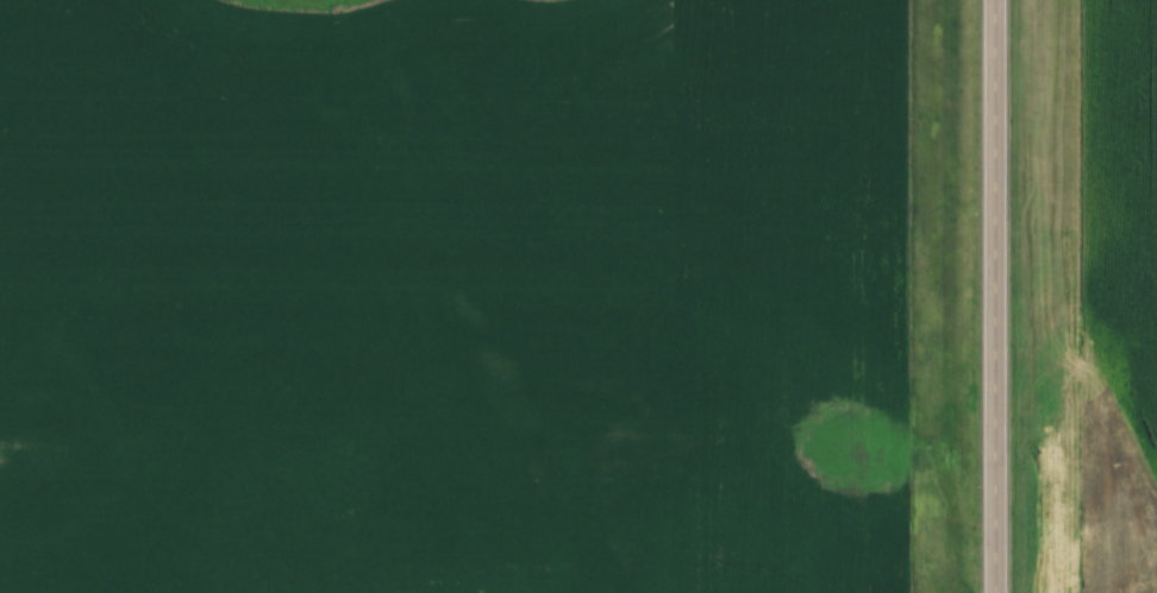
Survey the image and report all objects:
road: (995, 296)

